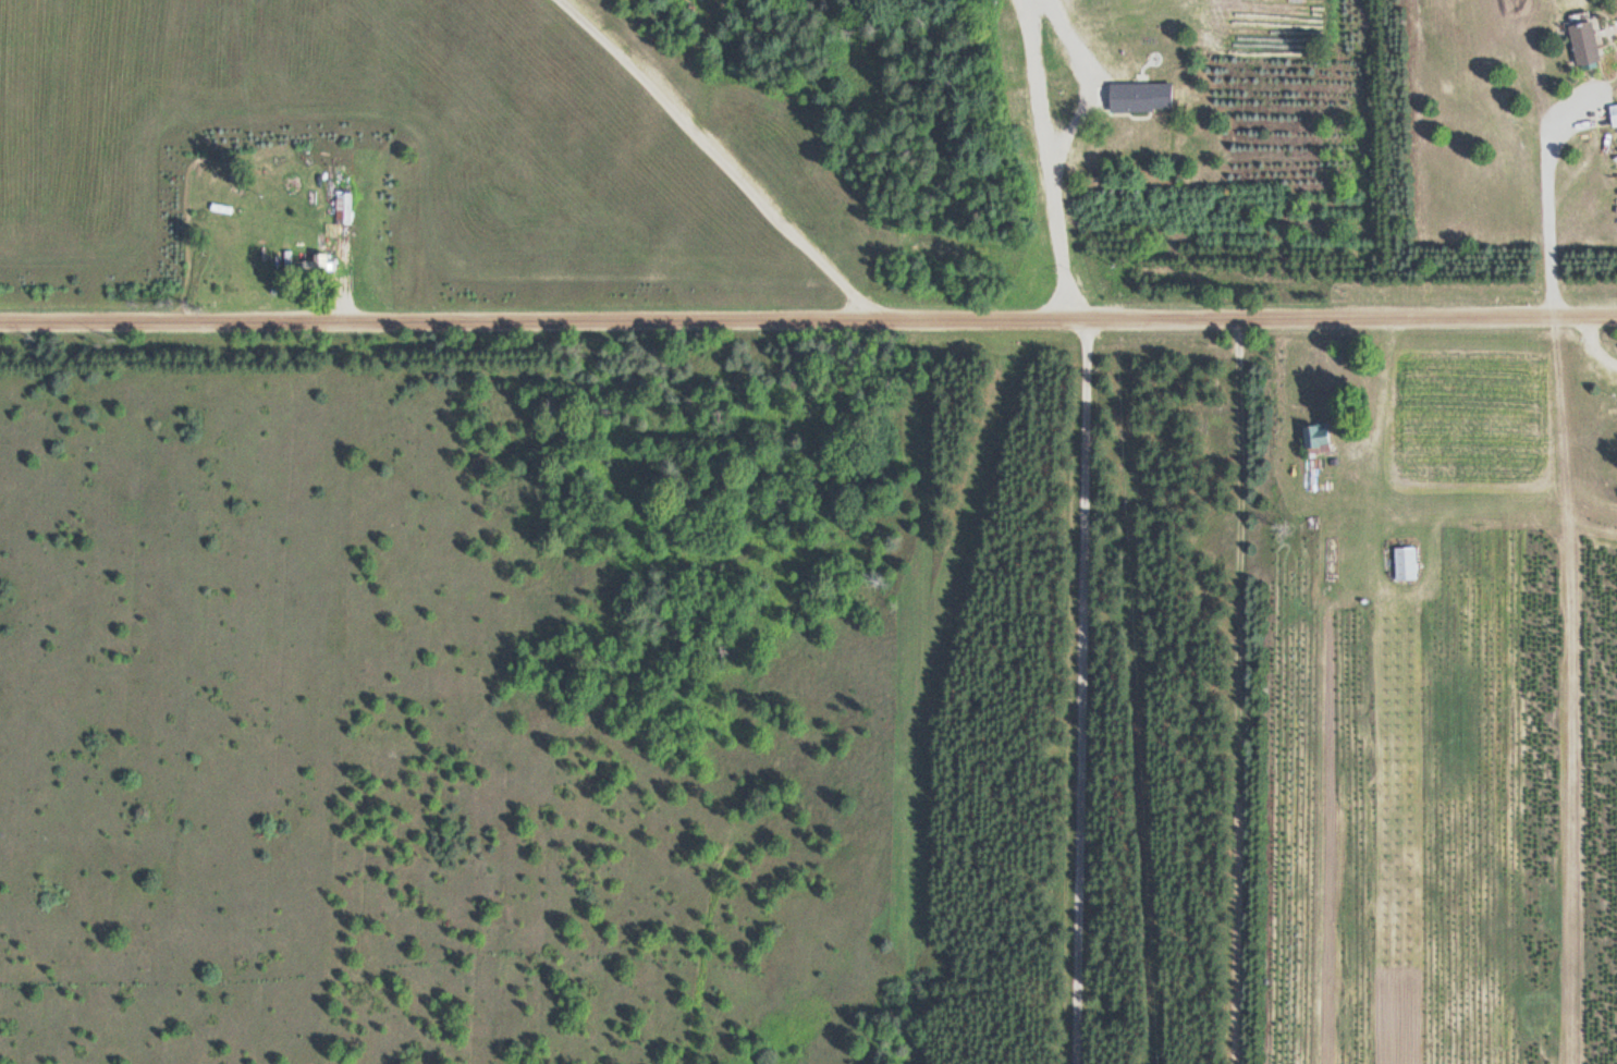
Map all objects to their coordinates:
road: (1026, 28)
building: (1581, 40)
road: (1088, 89)
building: (1137, 96)
building: (1612, 113)
road: (734, 157)
road: (1052, 187)
road: (1546, 199)
building: (341, 207)
building: (316, 264)
road: (808, 320)
building: (1312, 438)
building: (1401, 562)
road: (1085, 692)

